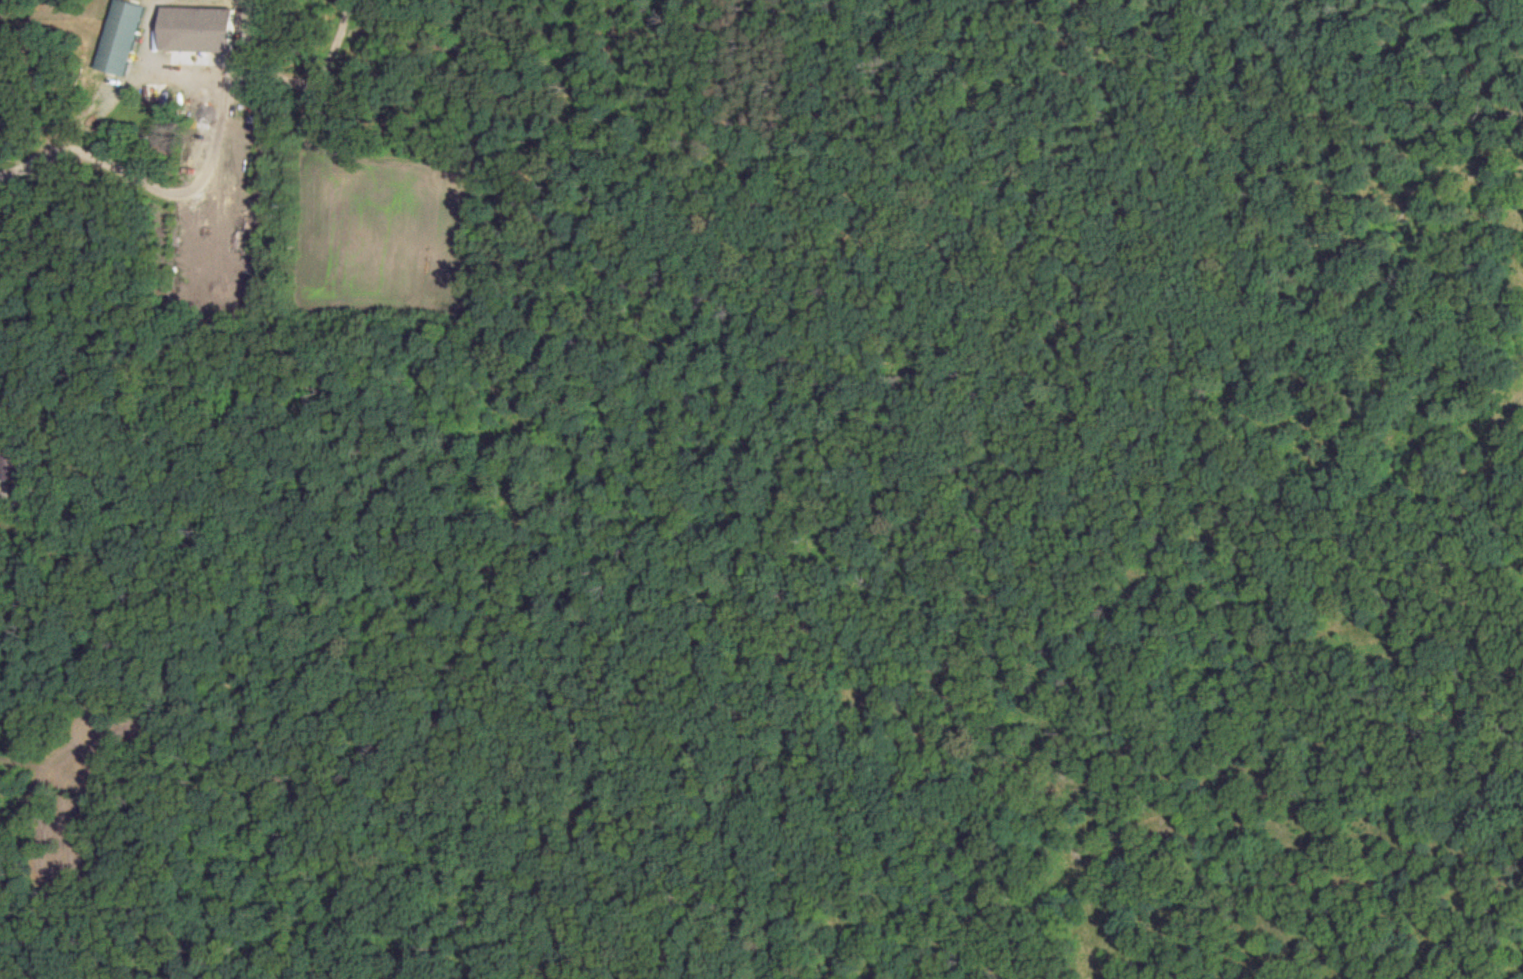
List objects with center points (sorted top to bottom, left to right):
building: (200, 28)
building: (122, 36)
road: (215, 131)
road: (40, 148)
building: (14, 464)
building: (24, 495)

